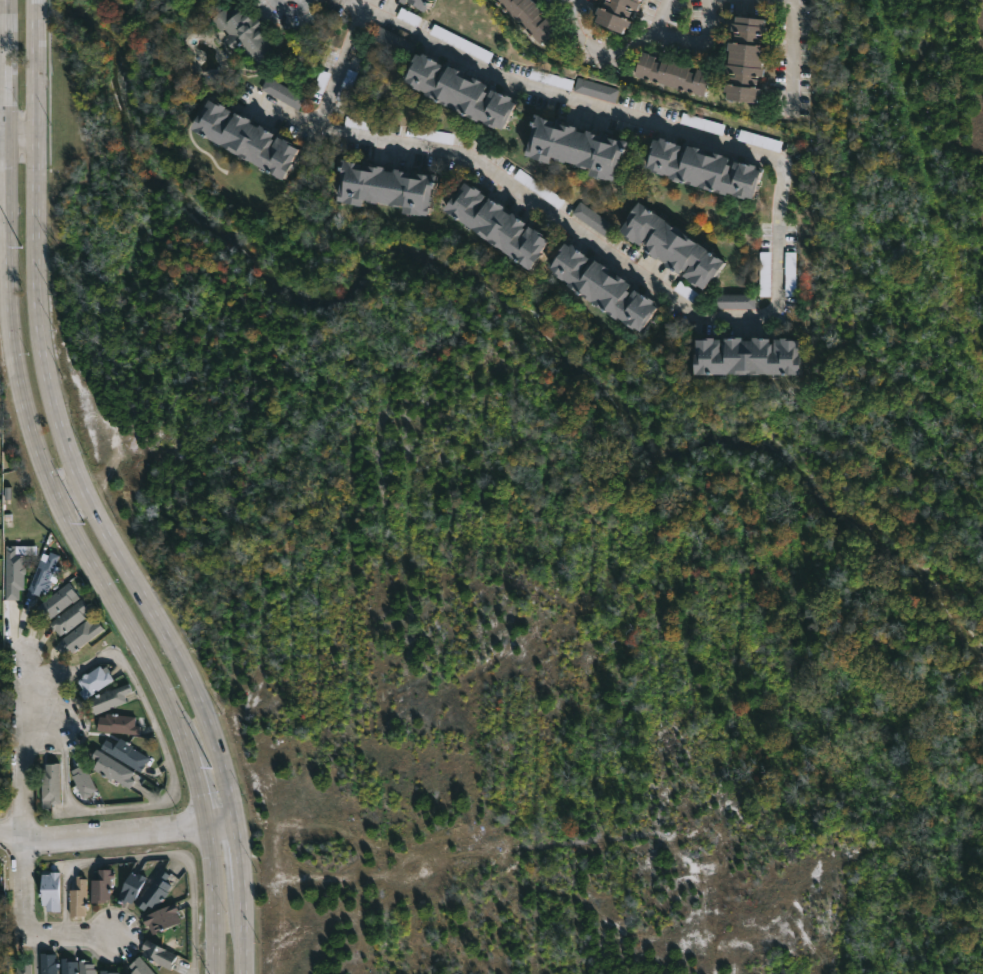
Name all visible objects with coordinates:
building: (402, 1)
building: (420, 3)
road: (577, 3)
road: (776, 3)
road: (290, 4)
building: (617, 13)
building: (531, 19)
building: (244, 33)
building: (392, 41)
building: (461, 43)
road: (689, 49)
road: (605, 54)
road: (796, 56)
building: (745, 58)
road: (342, 72)
building: (672, 73)
building: (459, 90)
building: (595, 90)
building: (282, 92)
building: (365, 124)
road: (22, 136)
building: (241, 139)
building: (575, 145)
building: (703, 168)
building: (387, 187)
building: (593, 220)
building: (496, 225)
building: (672, 245)
building: (765, 274)
building: (790, 274)
building: (602, 286)
building: (735, 301)
road: (779, 301)
building: (745, 358)
road: (69, 494)
road: (88, 500)
road: (57, 501)
building: (13, 573)
building: (42, 575)
building: (59, 600)
building: (69, 617)
building: (79, 635)
building: (93, 680)
building: (108, 698)
building: (117, 723)
building: (125, 753)
building: (112, 767)
road: (172, 778)
building: (82, 779)
building: (49, 783)
road: (23, 799)
road: (118, 835)
building: (100, 886)
building: (130, 887)
building: (50, 891)
building: (154, 892)
building: (78, 897)
building: (162, 919)
road: (78, 941)
building: (157, 954)
road: (843, 960)
building: (46, 963)
building: (67, 966)
building: (84, 967)
building: (138, 967)
building: (21, 968)
building: (108, 972)

